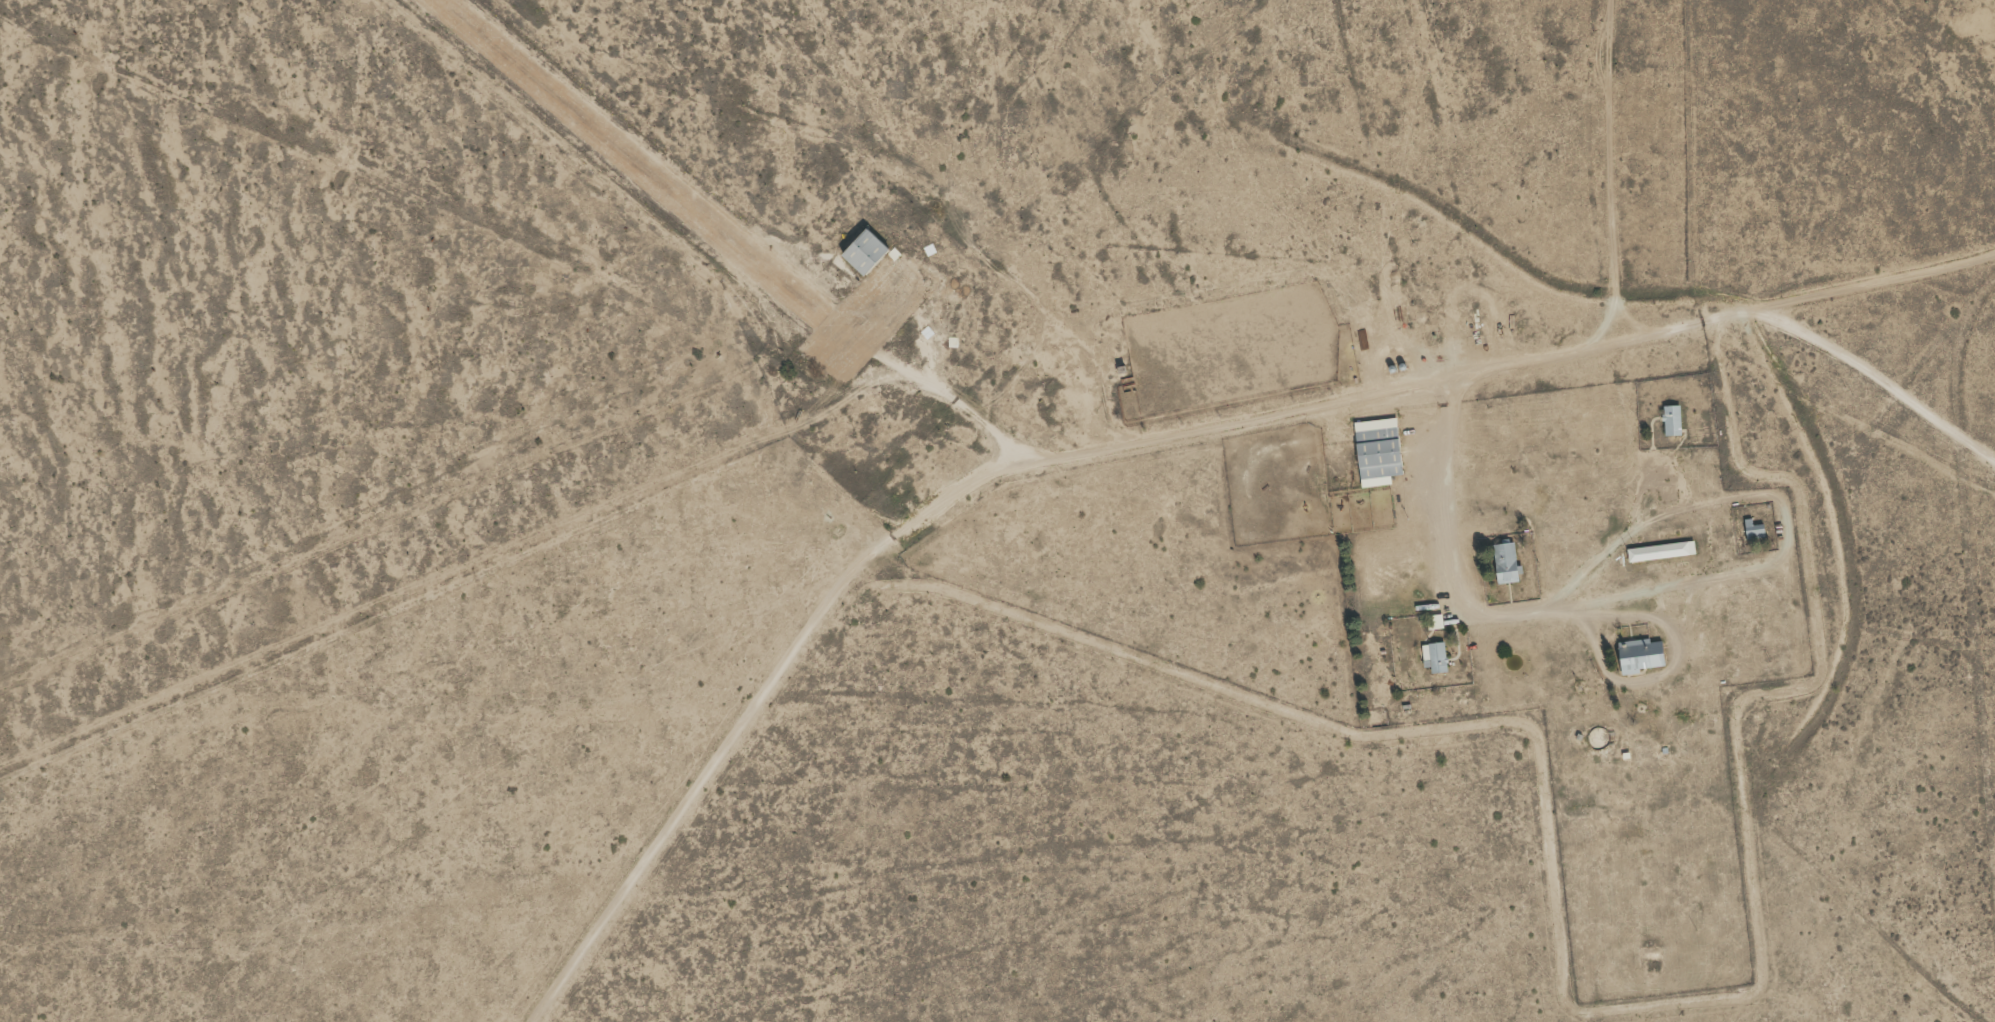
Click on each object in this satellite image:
airport runway: (634, 158)
road: (1654, 200)
building: (861, 250)
road: (458, 254)
building: (1670, 420)
building: (1375, 447)
road: (1165, 465)
road: (1833, 476)
road: (1500, 511)
building: (1752, 531)
building: (1659, 552)
building: (1503, 563)
road: (1296, 591)
building: (1638, 656)
building: (1433, 657)
road: (1981, 660)
road: (1968, 702)

